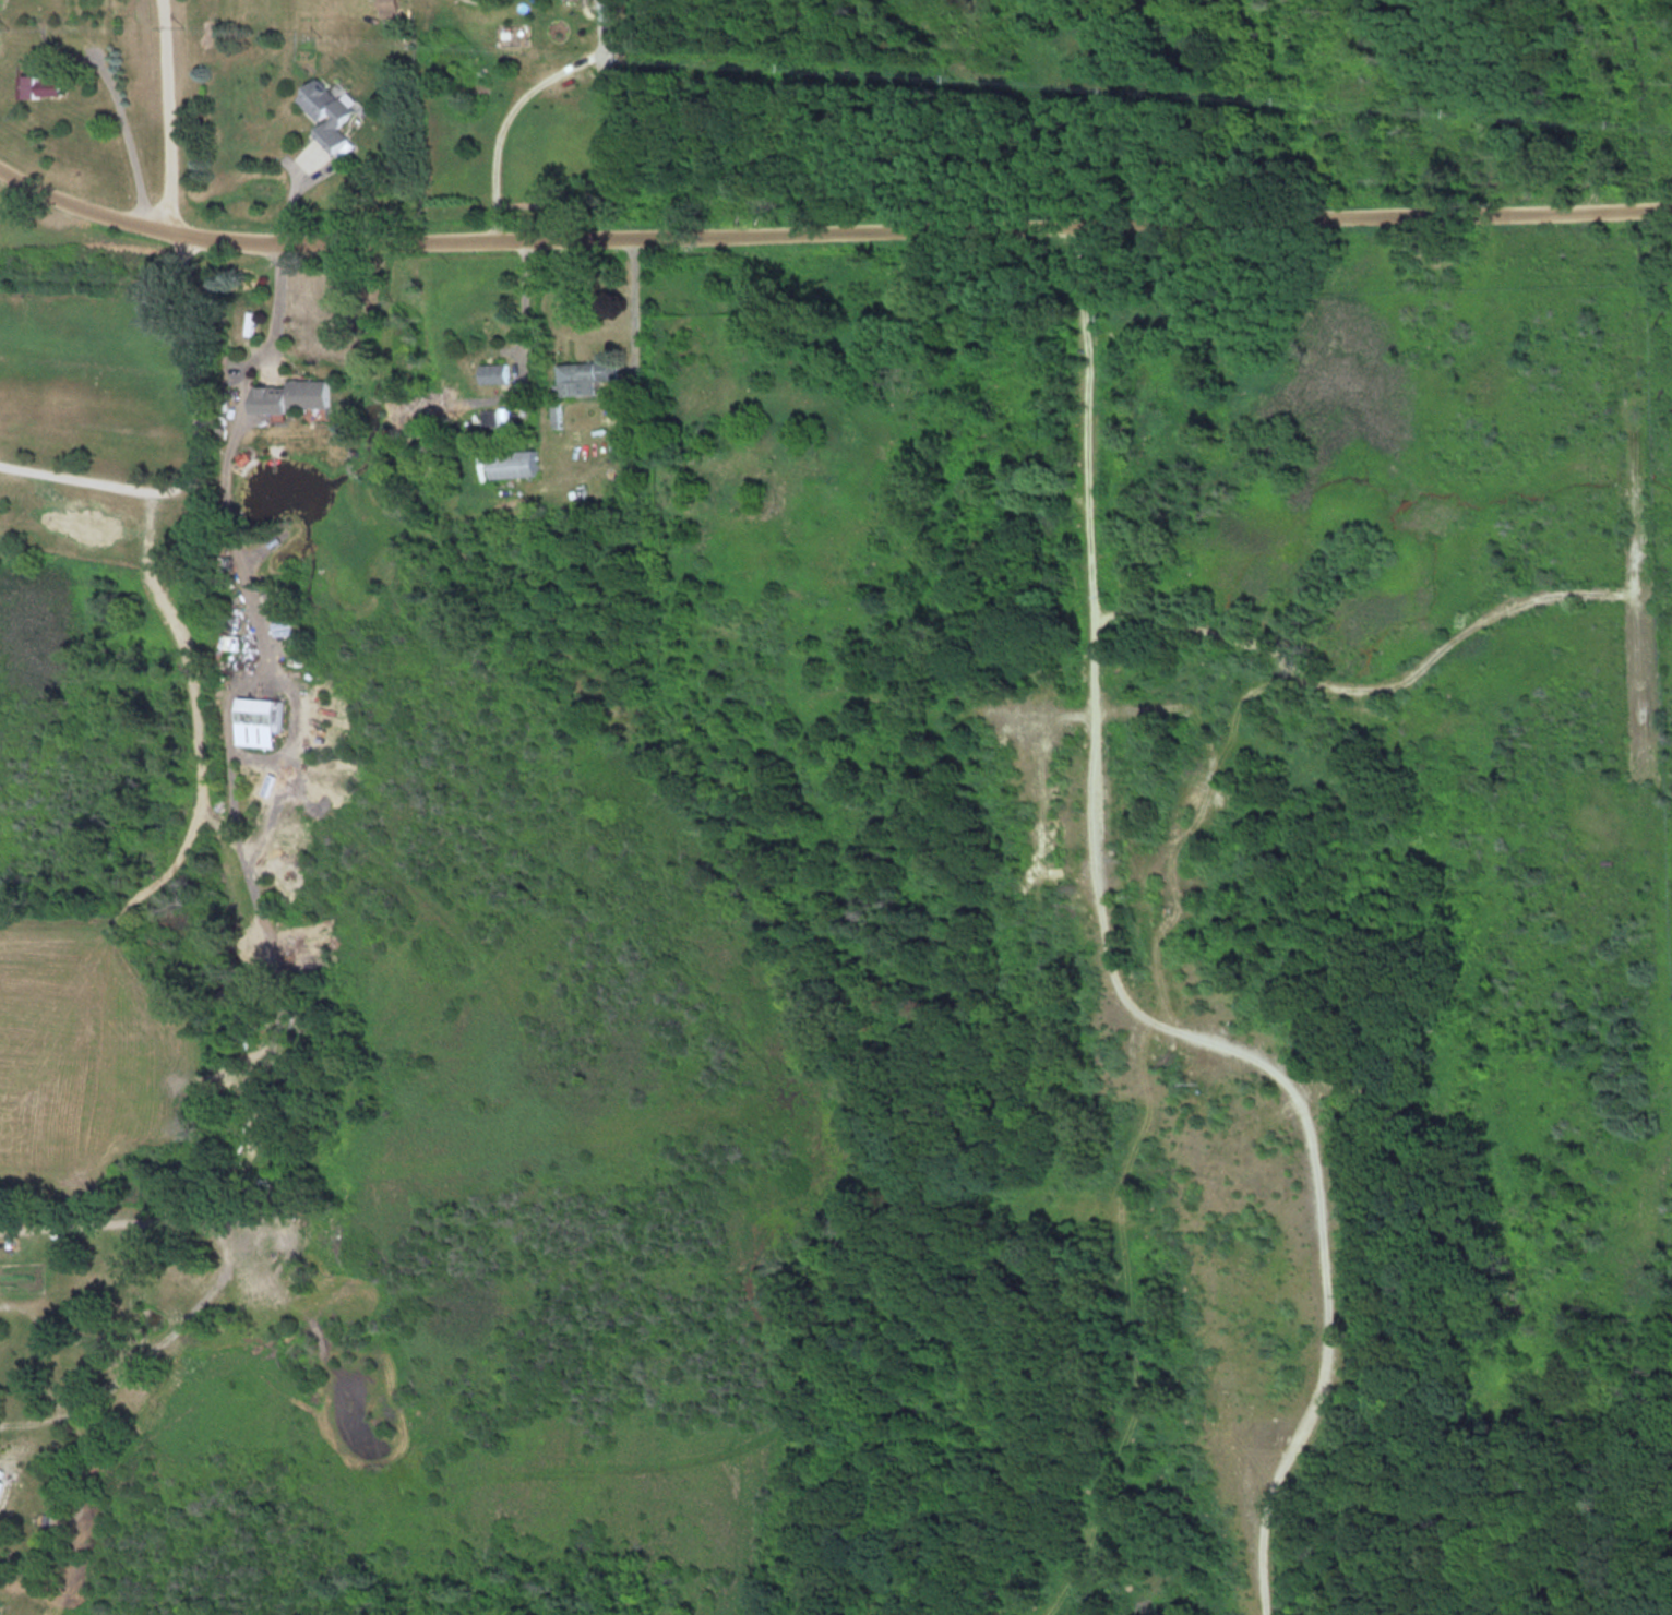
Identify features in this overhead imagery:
building: (0, 3)
building: (392, 8)
building: (47, 85)
road: (521, 99)
road: (164, 113)
building: (330, 113)
road: (134, 145)
road: (829, 231)
road: (636, 295)
road: (527, 310)
building: (498, 373)
building: (589, 375)
building: (297, 395)
road: (201, 451)
building: (521, 464)
road: (247, 577)
building: (232, 641)
building: (260, 710)
road: (1118, 977)
road: (223, 1278)

